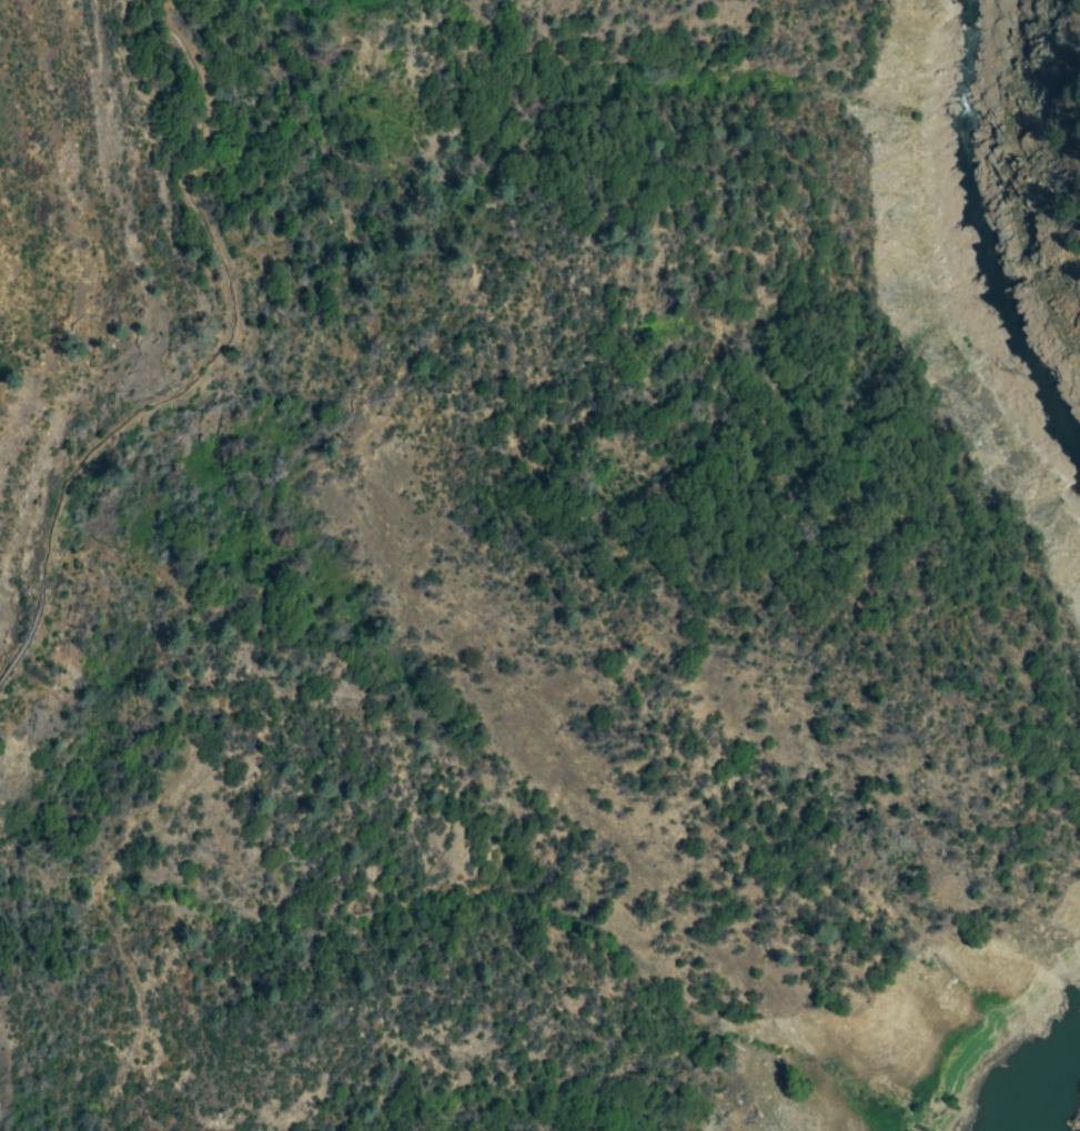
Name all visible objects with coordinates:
river: (978, 236)
river: (1015, 1070)

